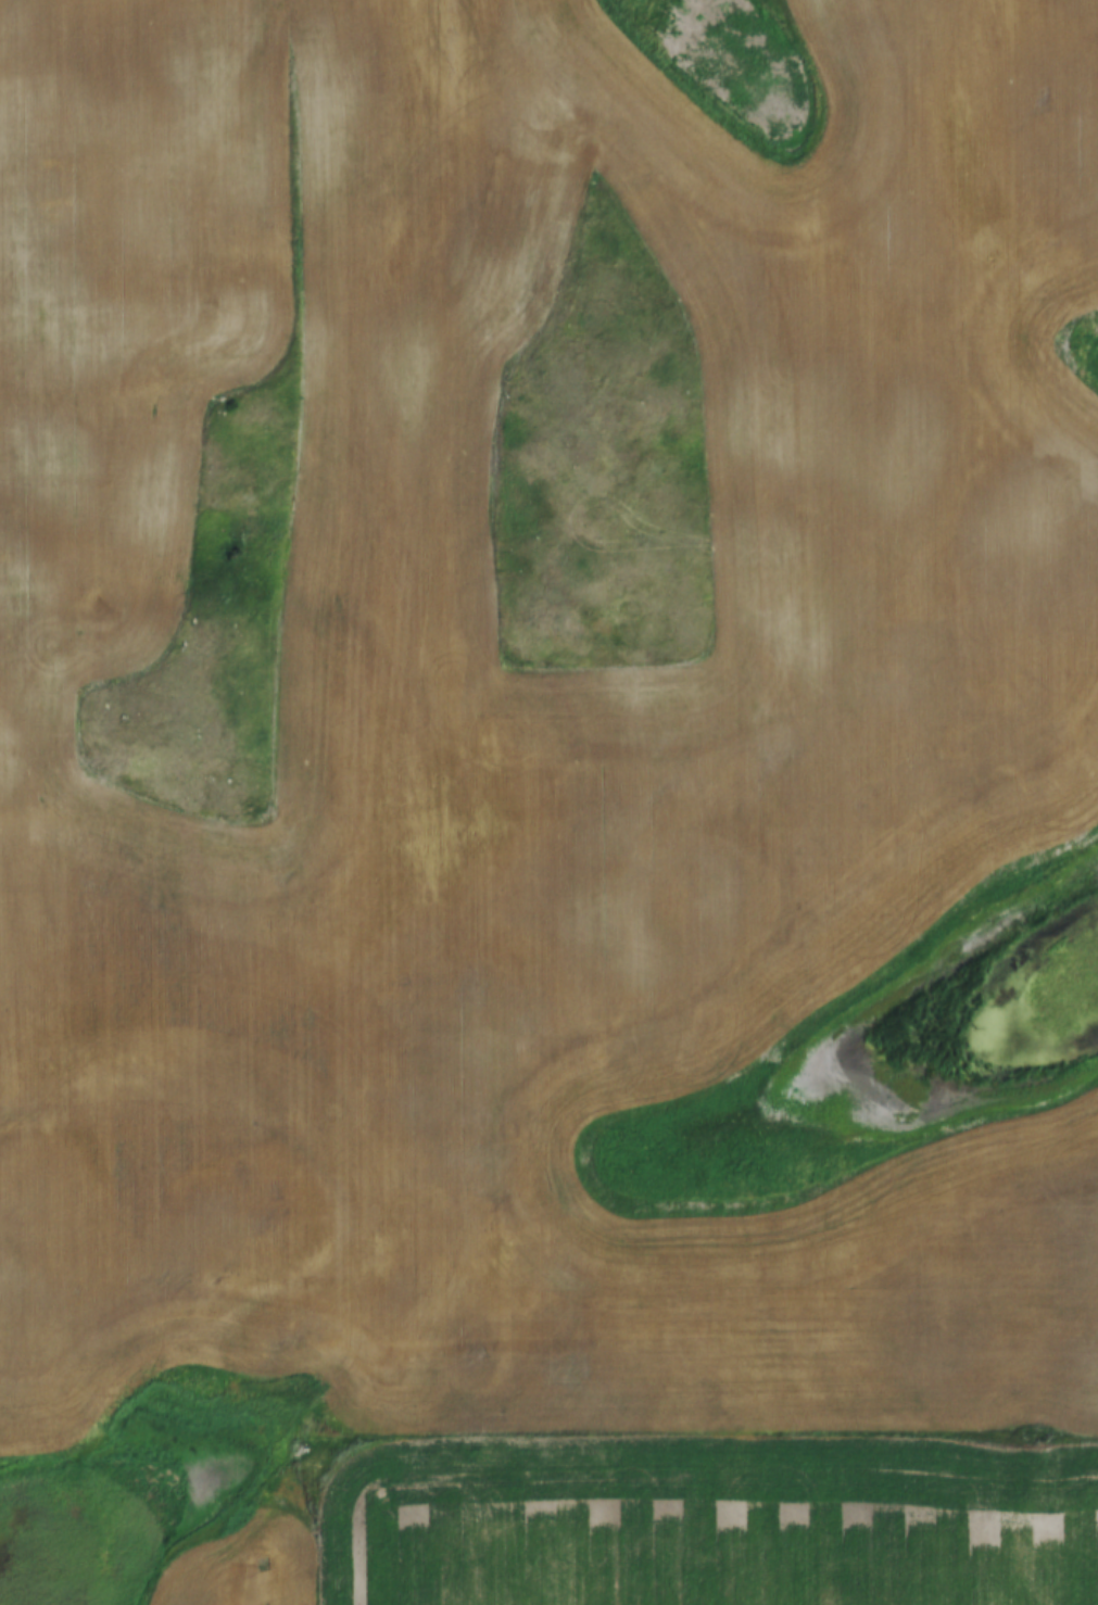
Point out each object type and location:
road: (1005, 939)

